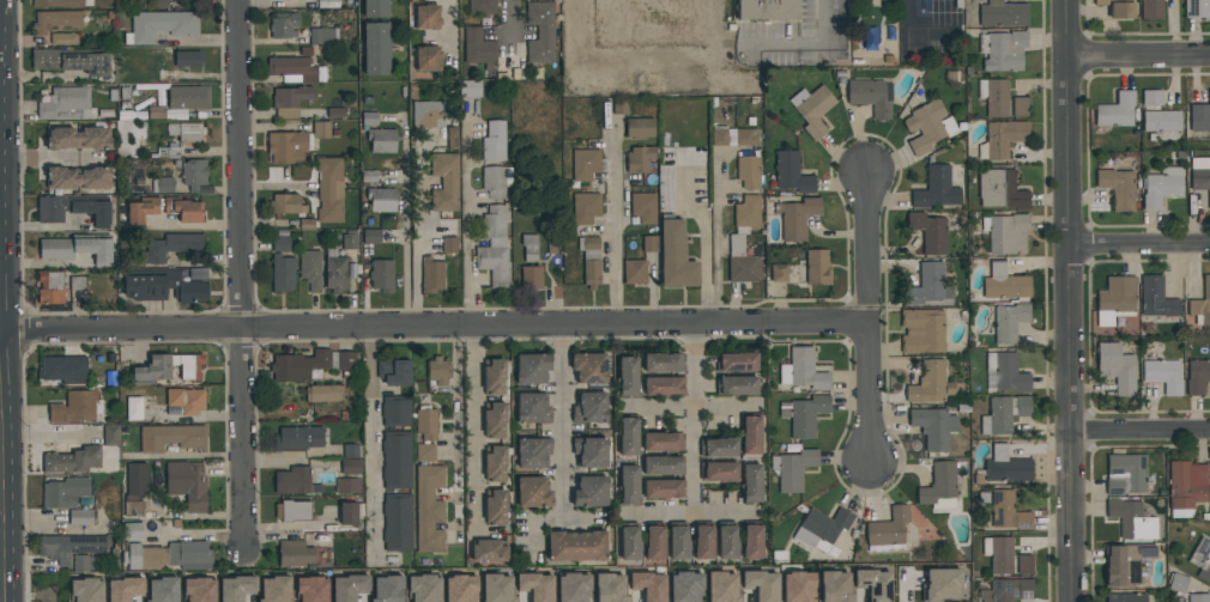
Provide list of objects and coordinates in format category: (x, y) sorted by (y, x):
building: (328, 0)
building: (58, 4)
building: (155, 4)
building: (482, 7)
building: (375, 8)
building: (1118, 8)
building: (1197, 8)
building: (764, 10)
building: (1151, 10)
road: (906, 11)
building: (1003, 14)
building: (428, 17)
building: (659, 18)
building: (55, 20)
road: (507, 20)
building: (161, 25)
building: (283, 25)
road: (452, 26)
building: (540, 32)
building: (323, 36)
building: (63, 39)
road: (725, 45)
building: (478, 48)
building: (375, 49)
building: (1003, 50)
road: (1136, 56)
building: (188, 59)
building: (428, 59)
building: (71, 60)
building: (294, 67)
building: (470, 89)
building: (869, 96)
building: (994, 96)
building: (188, 97)
building: (1152, 97)
building: (289, 101)
building: (66, 104)
building: (621, 107)
building: (1020, 107)
building: (812, 109)
building: (1117, 110)
building: (426, 115)
building: (1200, 116)
building: (1161, 121)
building: (927, 126)
building: (321, 129)
building: (640, 129)
building: (186, 130)
building: (734, 136)
building: (77, 138)
building: (128, 138)
building: (1002, 138)
building: (381, 140)
building: (494, 141)
building: (288, 147)
building: (640, 159)
road: (47, 160)
building: (585, 164)
building: (748, 172)
building: (791, 172)
building: (194, 174)
building: (1200, 175)
building: (78, 177)
building: (496, 181)
building: (444, 182)
building: (163, 184)
building: (1162, 187)
building: (665, 188)
building: (1118, 188)
building: (936, 189)
building: (1000, 189)
building: (329, 190)
building: (381, 200)
building: (285, 203)
building: (643, 207)
building: (74, 208)
building: (585, 208)
building: (141, 209)
building: (184, 209)
building: (746, 214)
road: (467, 217)
building: (795, 218)
road: (616, 224)
road: (182, 225)
road: (419, 232)
building: (930, 232)
building: (1006, 233)
building: (371, 236)
road: (704, 236)
building: (350, 242)
building: (280, 243)
road: (719, 243)
building: (649, 244)
building: (449, 245)
building: (170, 247)
building: (494, 247)
building: (528, 247)
building: (75, 249)
road: (1137, 250)
building: (676, 256)
building: (589, 261)
building: (742, 262)
building: (817, 267)
building: (310, 269)
building: (334, 270)
building: (634, 272)
building: (283, 273)
building: (779, 273)
road: (241, 275)
building: (381, 275)
building: (431, 275)
building: (531, 276)
building: (1004, 282)
building: (77, 284)
building: (928, 285)
building: (162, 286)
building: (50, 287)
building: (1156, 298)
building: (1115, 299)
road: (1065, 300)
building: (1200, 305)
road: (870, 318)
building: (1009, 322)
road: (435, 328)
building: (922, 330)
building: (664, 363)
building: (737, 363)
building: (310, 365)
building: (589, 367)
building: (1117, 367)
building: (63, 369)
building: (168, 369)
building: (532, 369)
building: (803, 370)
building: (437, 371)
building: (394, 372)
building: (1006, 372)
building: (1163, 375)
building: (492, 376)
building: (1197, 376)
building: (627, 377)
building: (930, 383)
building: (736, 385)
building: (663, 387)
building: (323, 394)
building: (186, 400)
building: (1022, 406)
building: (75, 407)
building: (532, 408)
building: (589, 408)
building: (395, 411)
building: (804, 414)
building: (998, 416)
building: (494, 420)
road: (695, 420)
building: (425, 424)
road: (568, 424)
road: (1138, 426)
building: (933, 427)
road: (455, 431)
road: (477, 431)
building: (110, 434)
building: (750, 434)
building: (628, 436)
road: (50, 437)
building: (170, 437)
building: (297, 438)
building: (663, 442)
road: (375, 443)
building: (718, 448)
building: (350, 451)
building: (425, 452)
building: (533, 452)
building: (589, 452)
building: (397, 460)
building: (73, 461)
building: (494, 463)
building: (663, 466)
building: (351, 467)
building: (1006, 467)
building: (793, 469)
building: (719, 472)
building: (1125, 474)
building: (295, 481)
building: (187, 484)
building: (751, 484)
building: (629, 485)
building: (349, 486)
building: (939, 487)
building: (1186, 487)
building: (135, 488)
building: (663, 488)
building: (591, 491)
building: (65, 492)
building: (533, 492)
building: (495, 507)
building: (292, 510)
building: (429, 510)
building: (1008, 511)
building: (351, 512)
road: (694, 515)
building: (80, 517)
building: (1131, 519)
road: (551, 521)
building: (397, 522)
building: (821, 529)
building: (133, 531)
building: (888, 531)
building: (703, 540)
building: (751, 540)
building: (629, 541)
building: (654, 541)
building: (678, 541)
building: (727, 541)
road: (0, 542)
building: (576, 546)
building: (69, 547)
building: (489, 551)
building: (295, 554)
building: (999, 554)
building: (188, 555)
building: (145, 557)
building: (1202, 559)
building: (81, 563)
building: (1126, 564)
road: (0, 565)
building: (1023, 565)
building: (1178, 583)
building: (761, 584)
building: (873, 584)
building: (940, 584)
building: (648, 585)
building: (349, 586)
building: (536, 586)
building: (685, 586)
building: (721, 586)
building: (798, 586)
building: (835, 586)
building: (236, 588)
building: (423, 588)
building: (497, 588)
building: (573, 588)
building: (610, 588)
building: (123, 589)
building: (274, 589)
building: (311, 589)
building: (387, 589)
building: (460, 589)
building: (86, 590)
building: (162, 590)
building: (199, 590)
building: (1006, 590)
building: (1126, 597)
building: (1198, 597)

